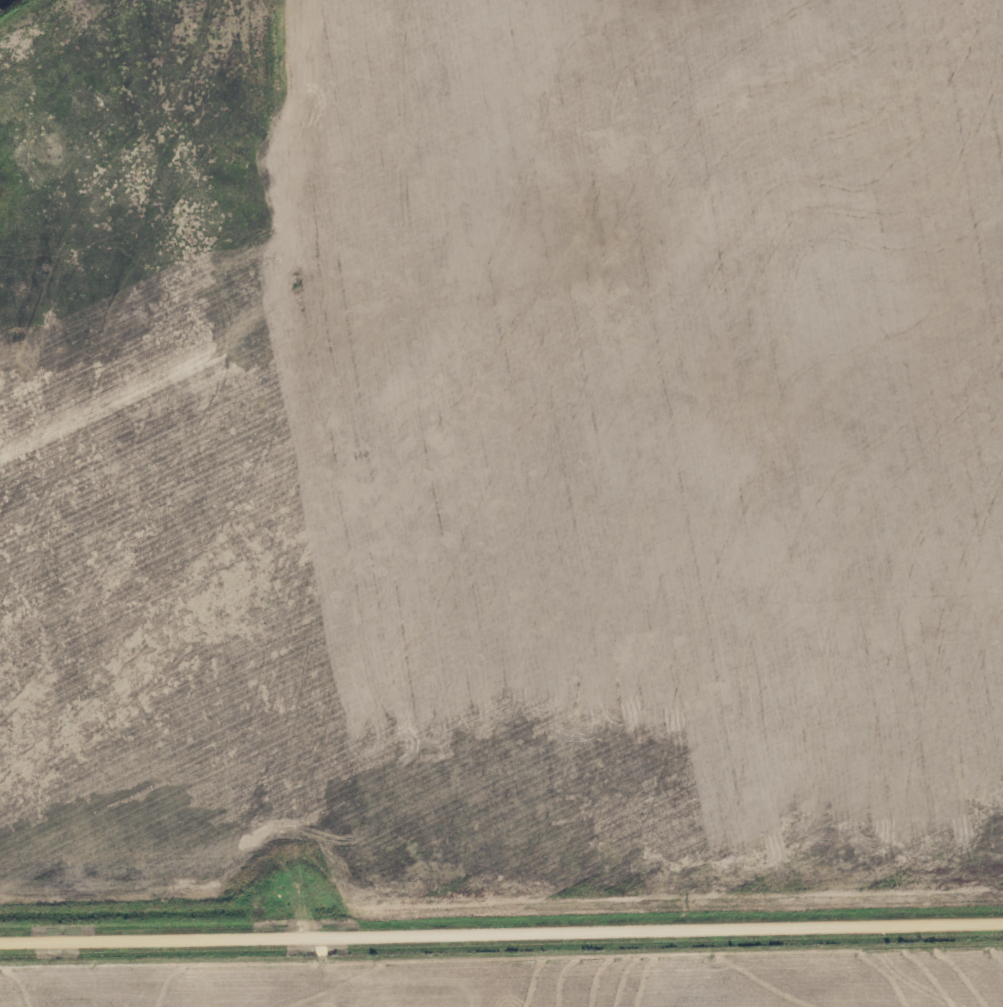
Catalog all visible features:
road: (501, 932)

